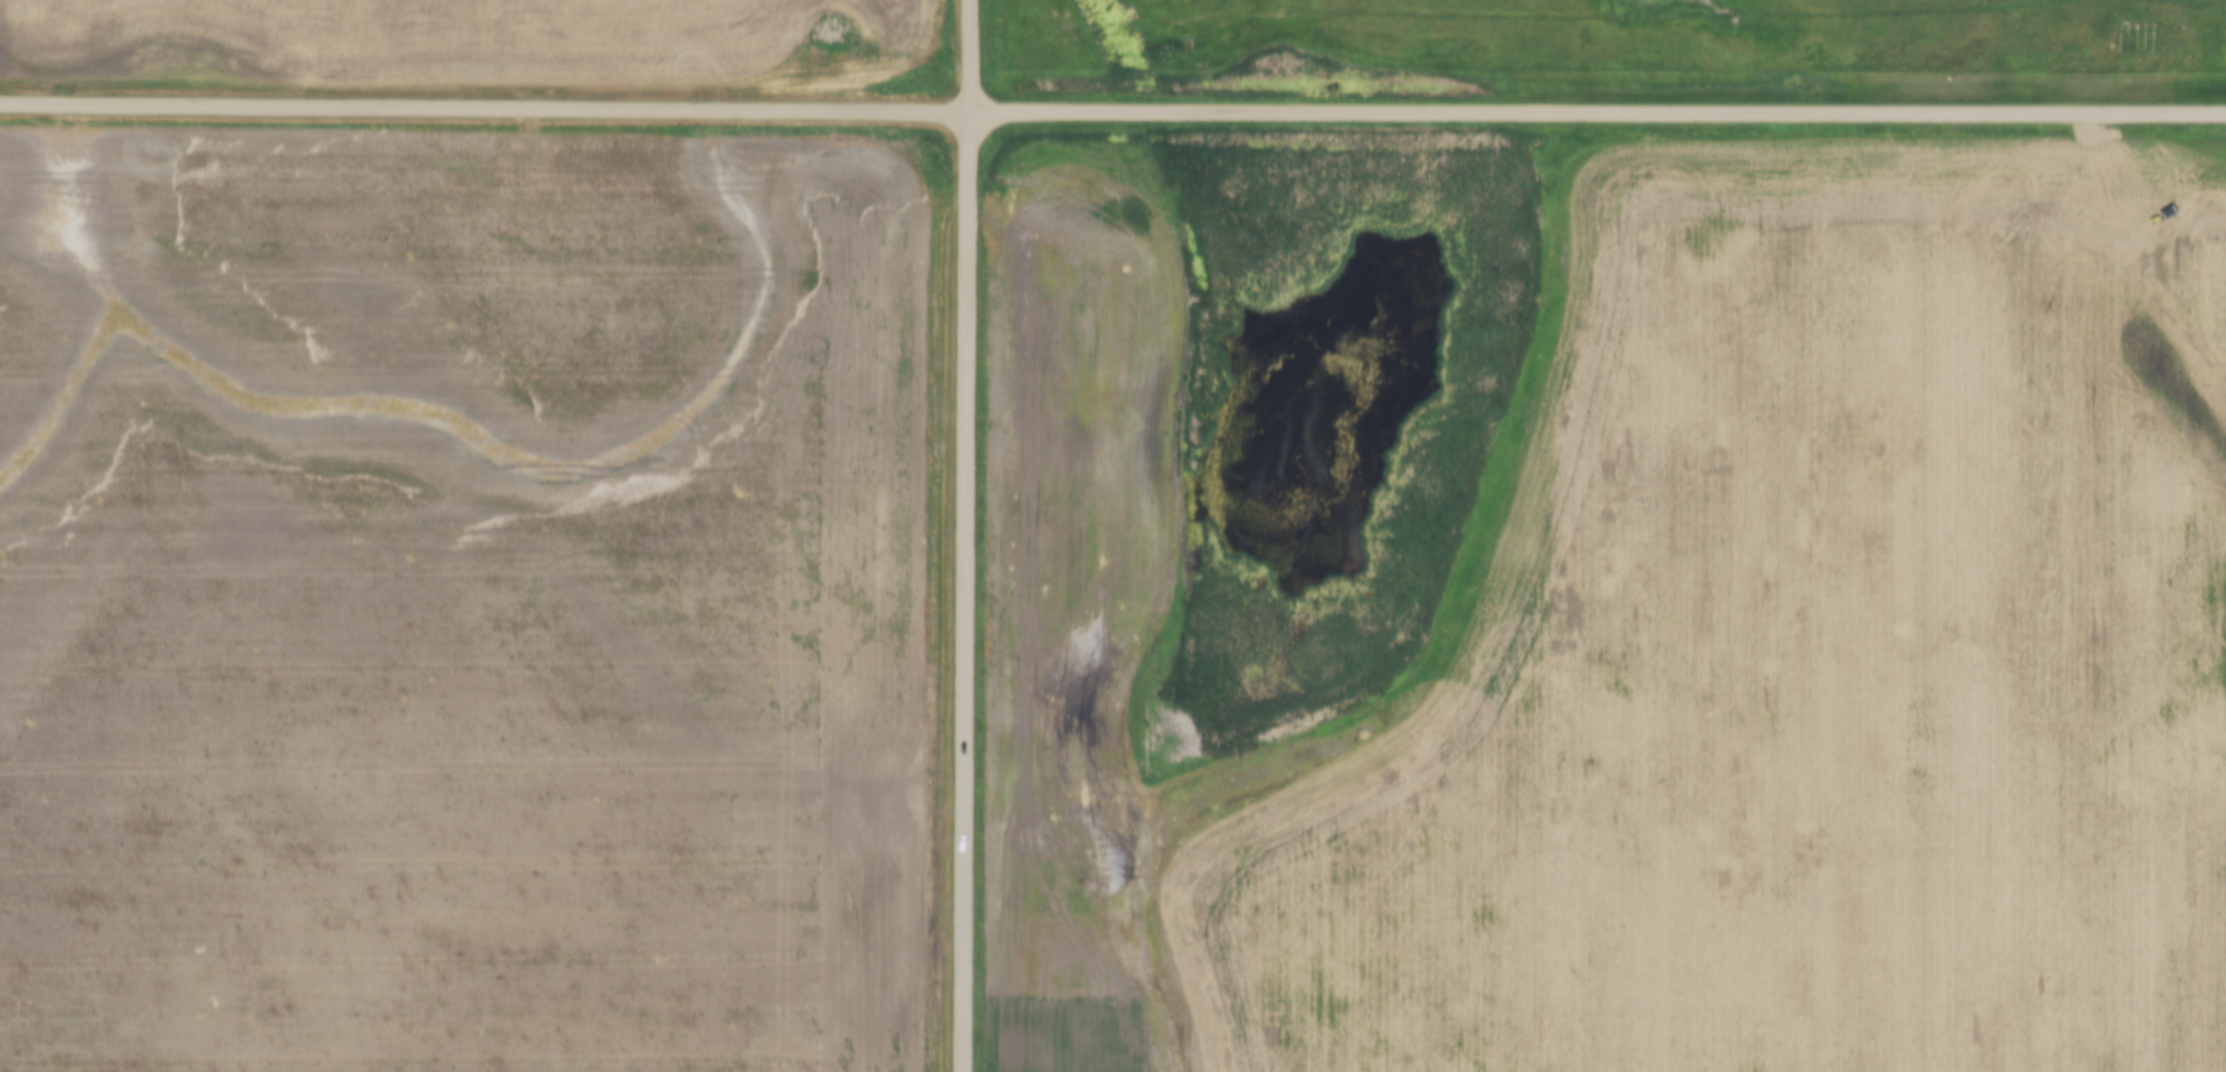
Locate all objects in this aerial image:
road: (1112, 111)
road: (969, 536)

